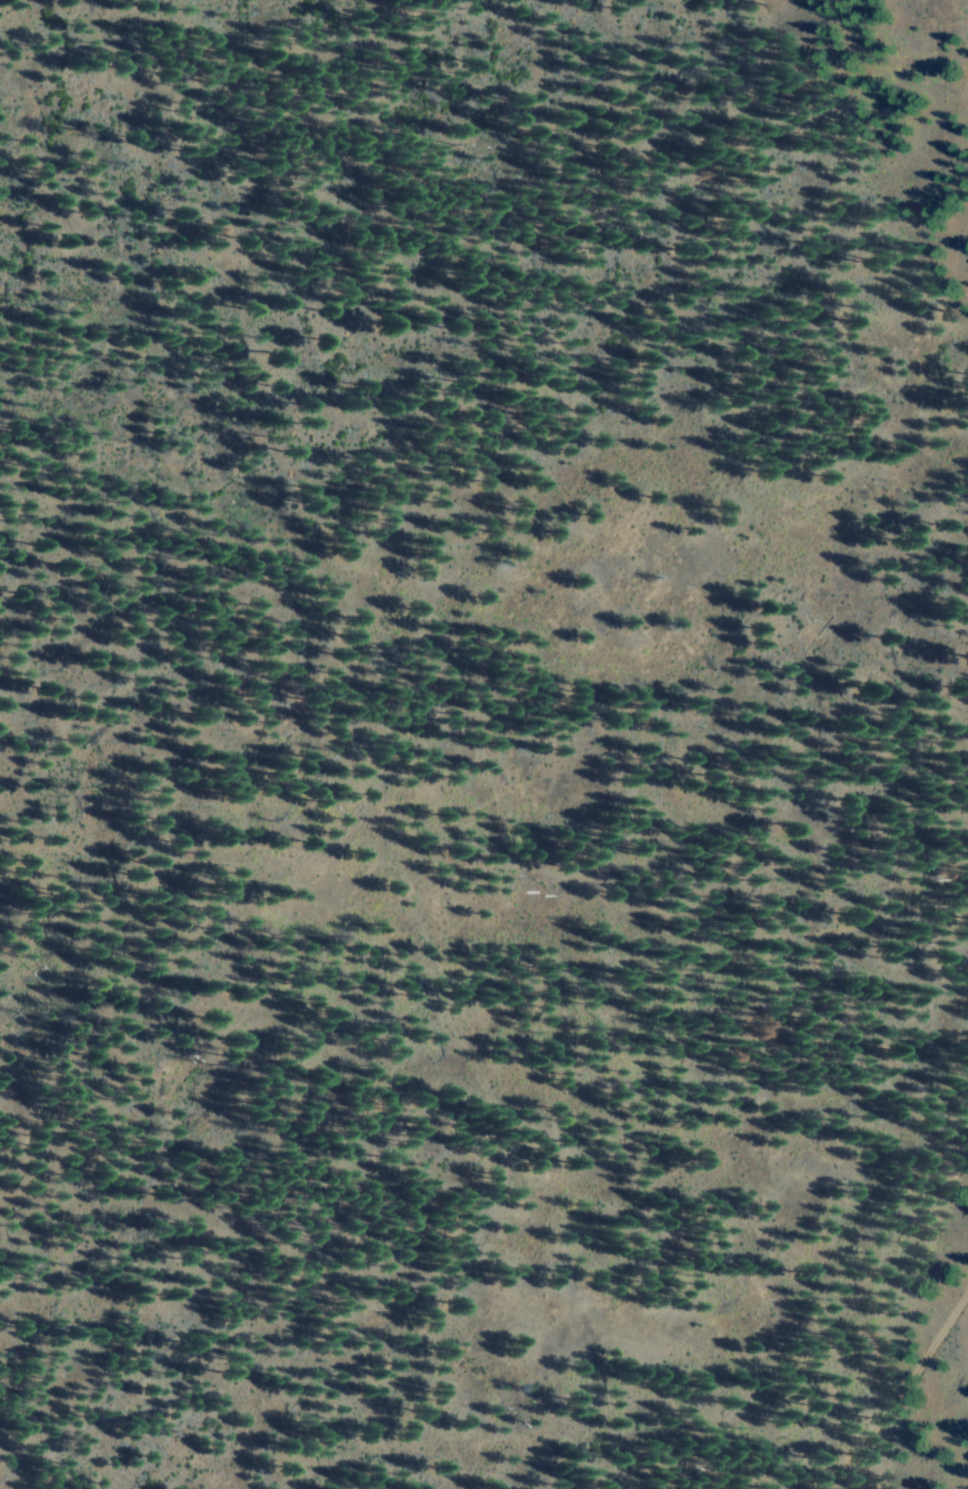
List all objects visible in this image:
road: (880, 1368)

